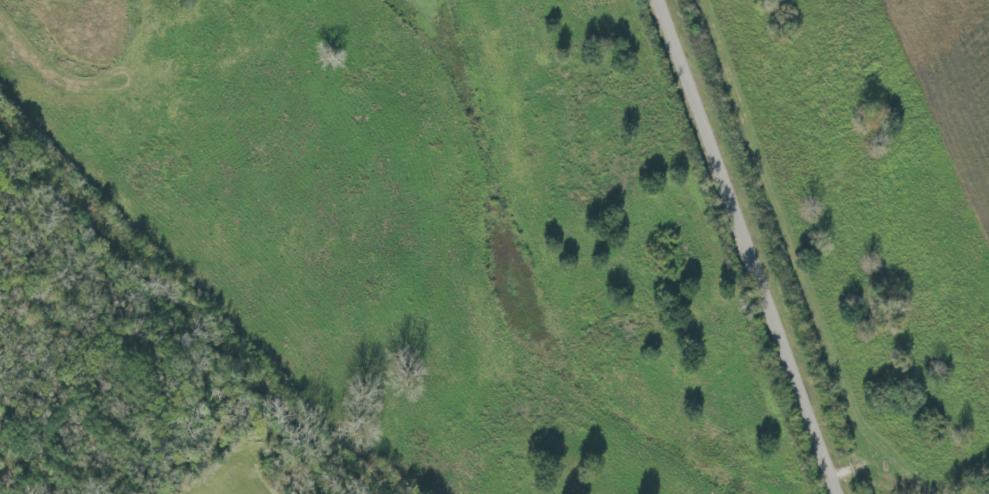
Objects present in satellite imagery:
road: (750, 247)

